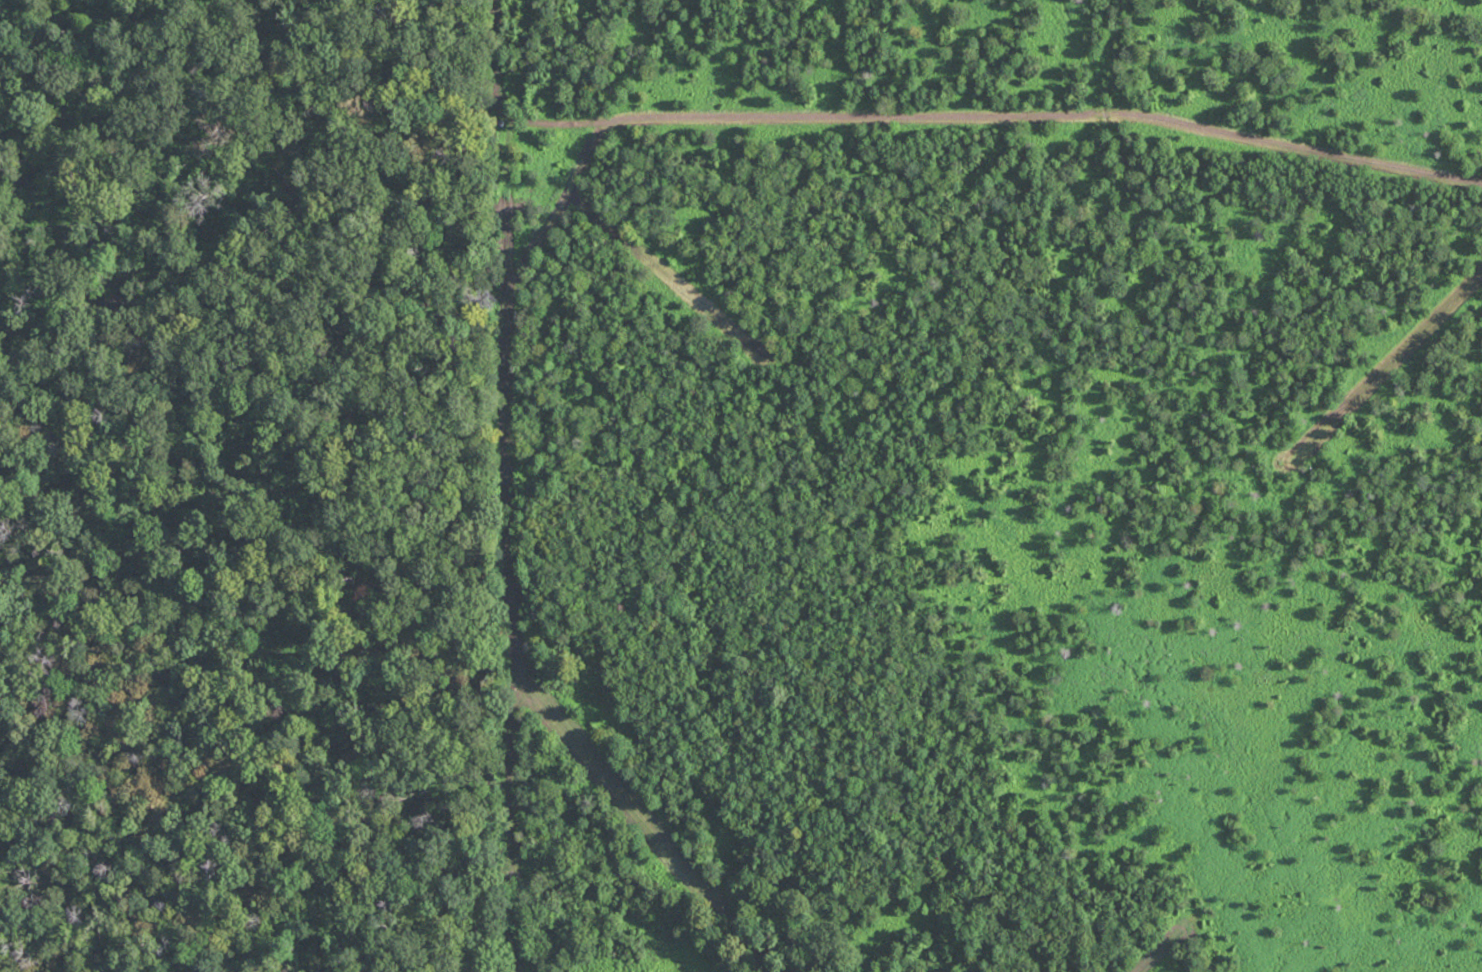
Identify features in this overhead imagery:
road: (581, 165)
road: (512, 815)
road: (1161, 938)

